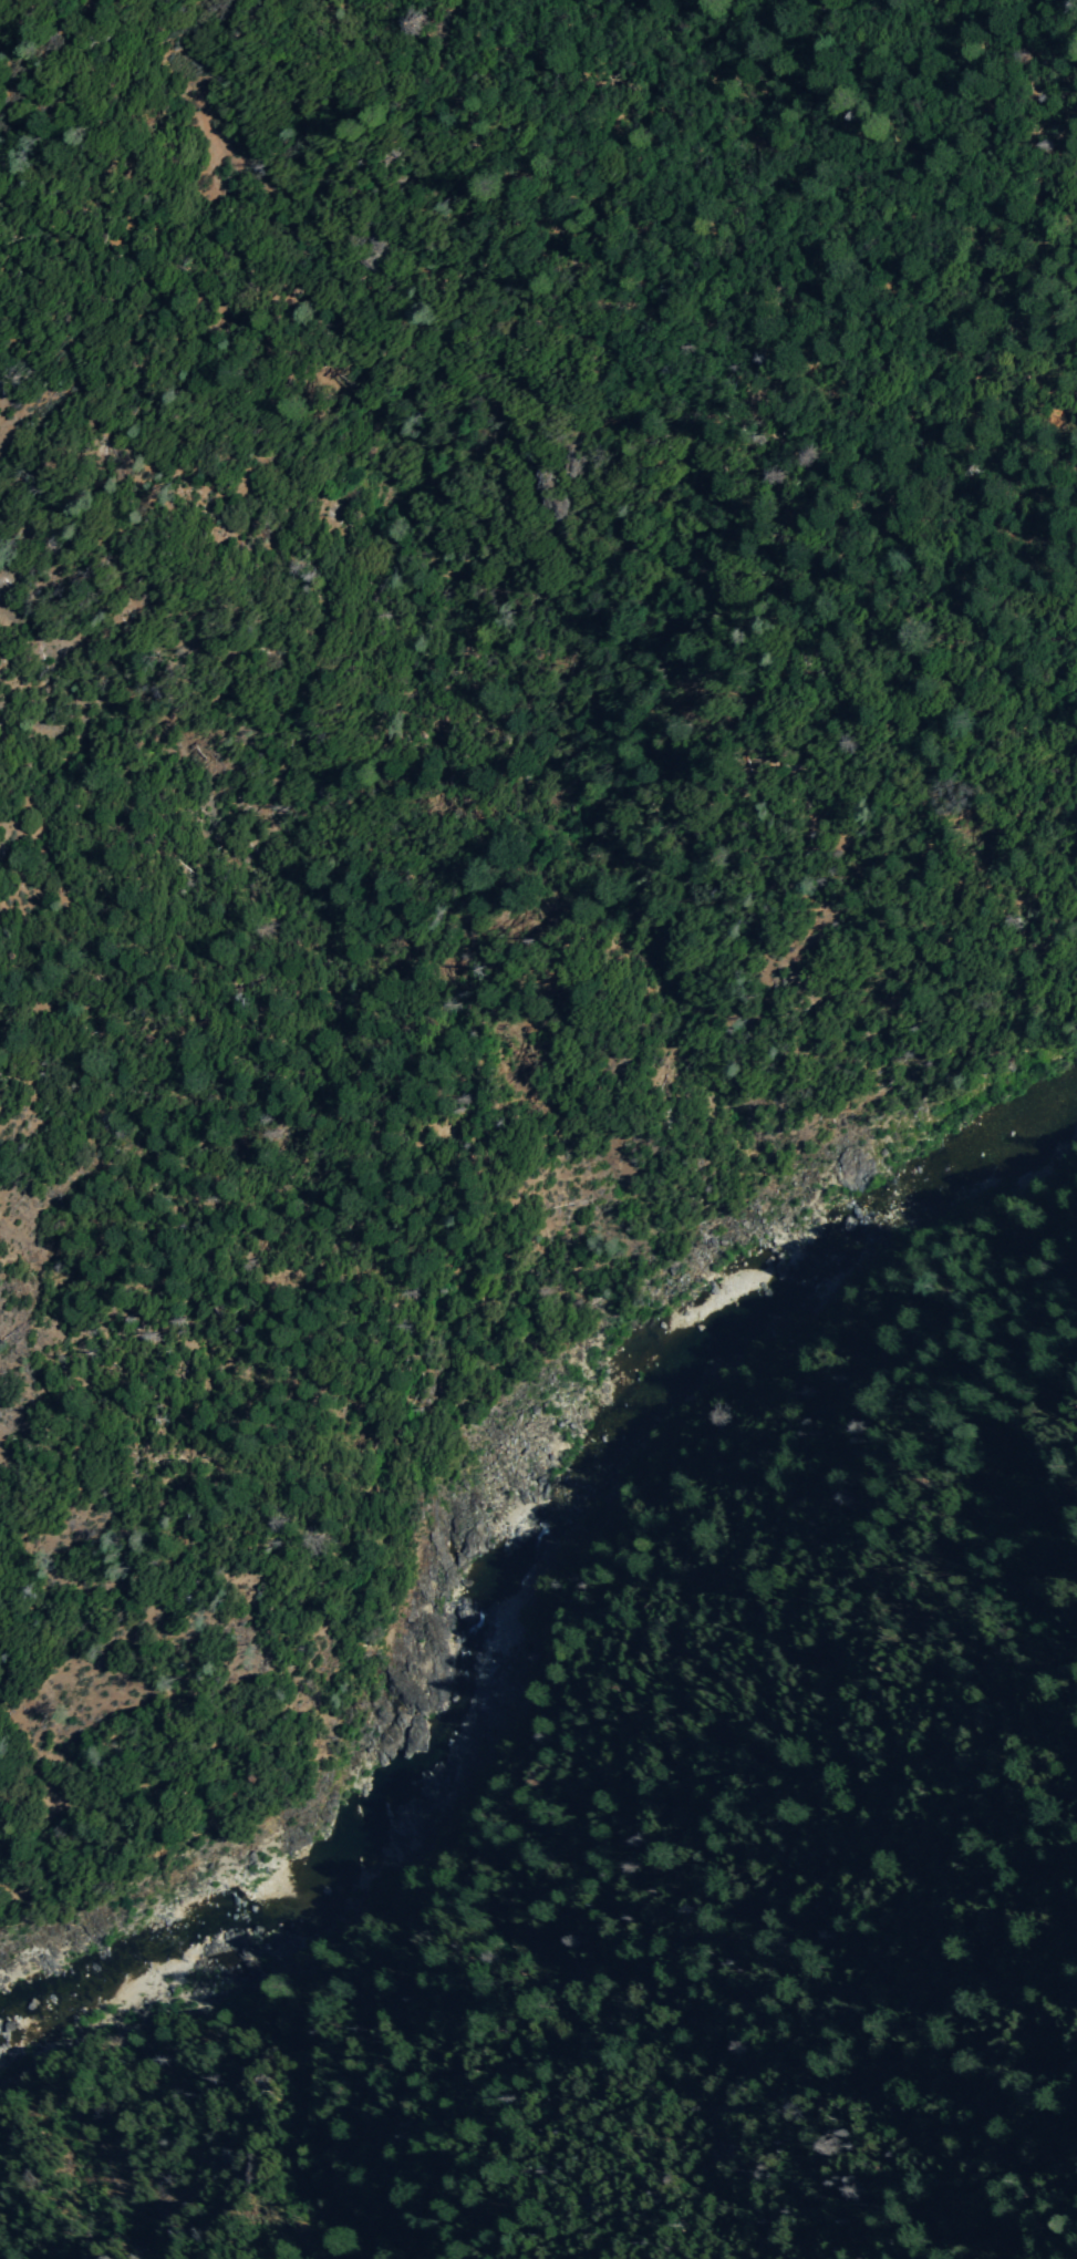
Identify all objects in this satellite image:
road: (446, 1263)
river: (537, 1467)
river: (60, 1963)

